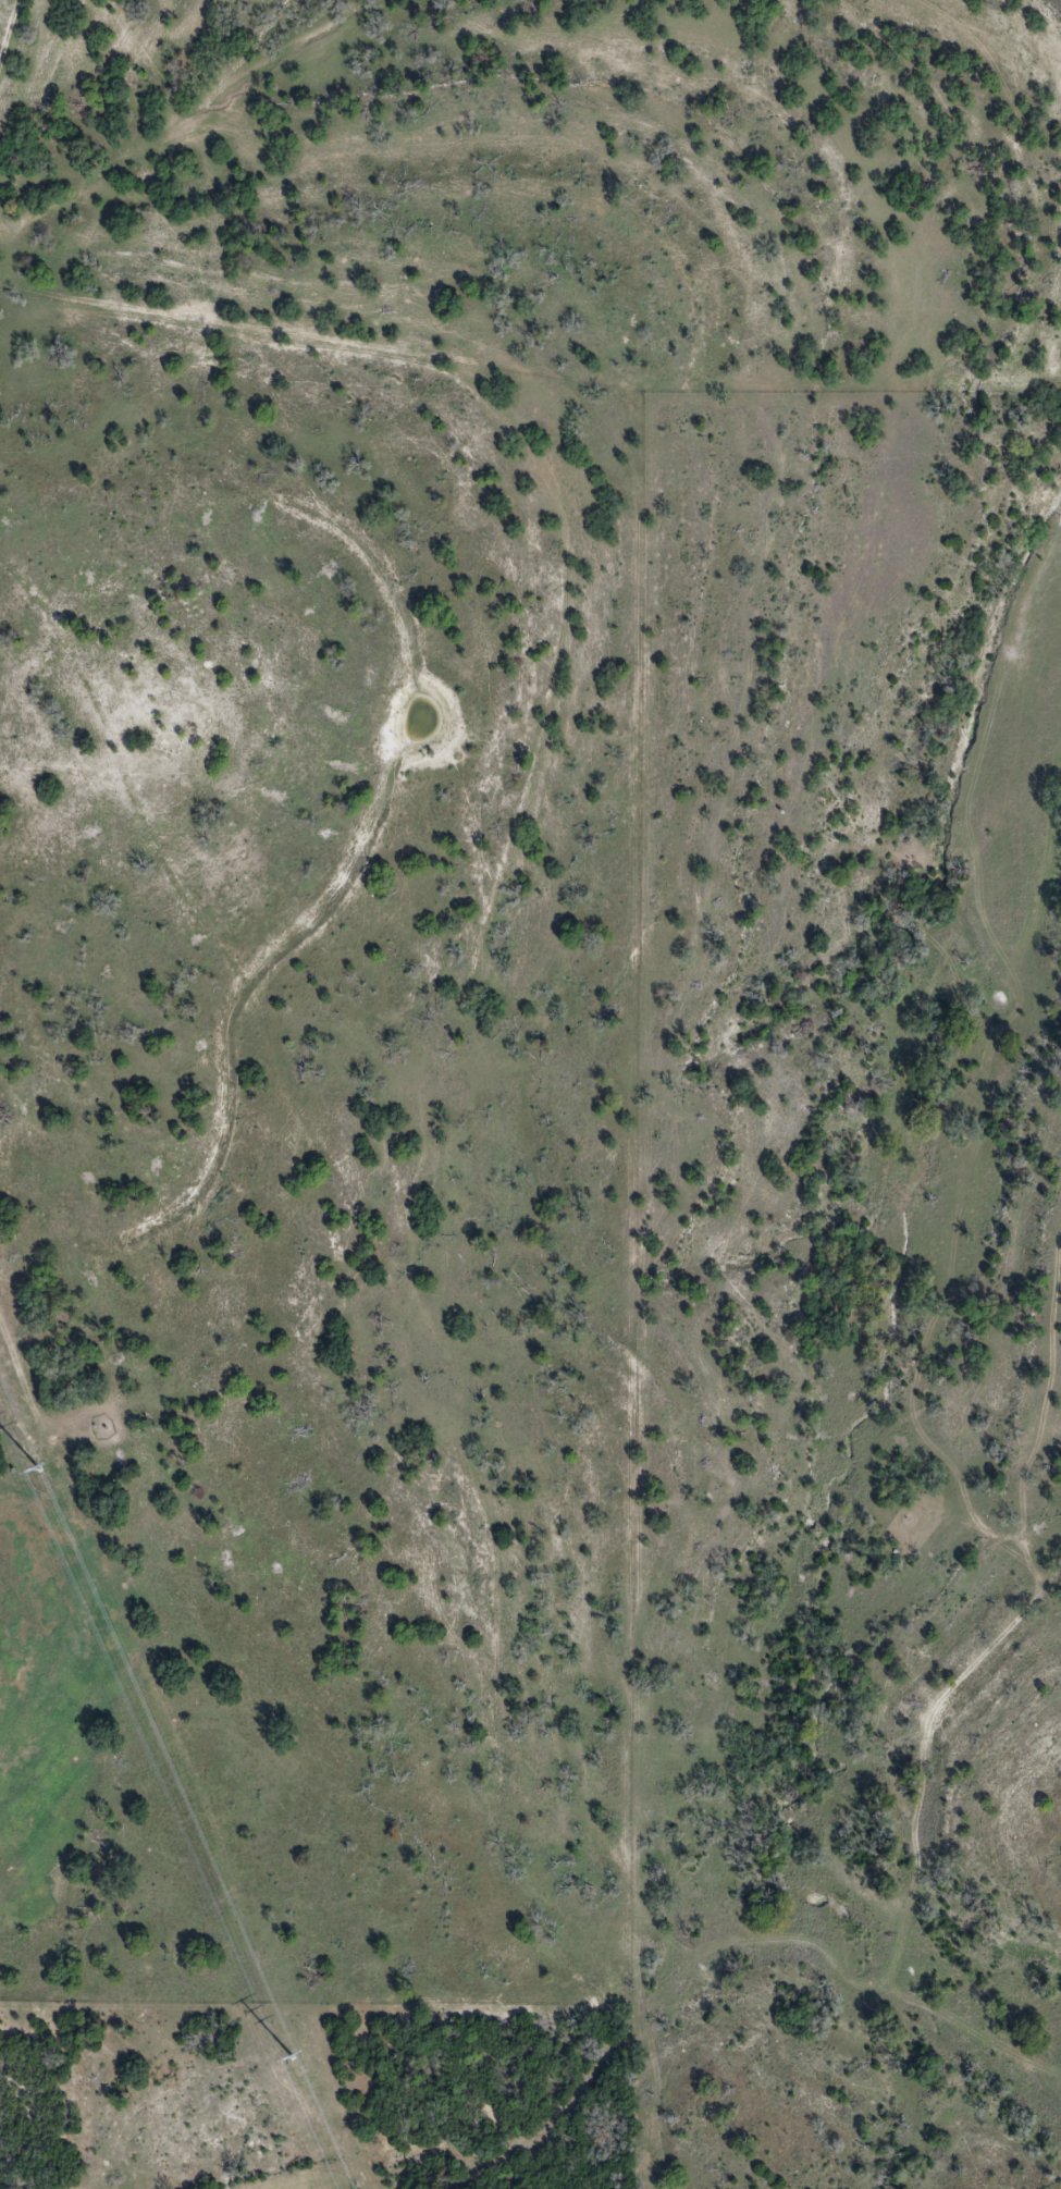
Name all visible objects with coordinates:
power tower: (37, 1471)
power tower: (295, 2059)

